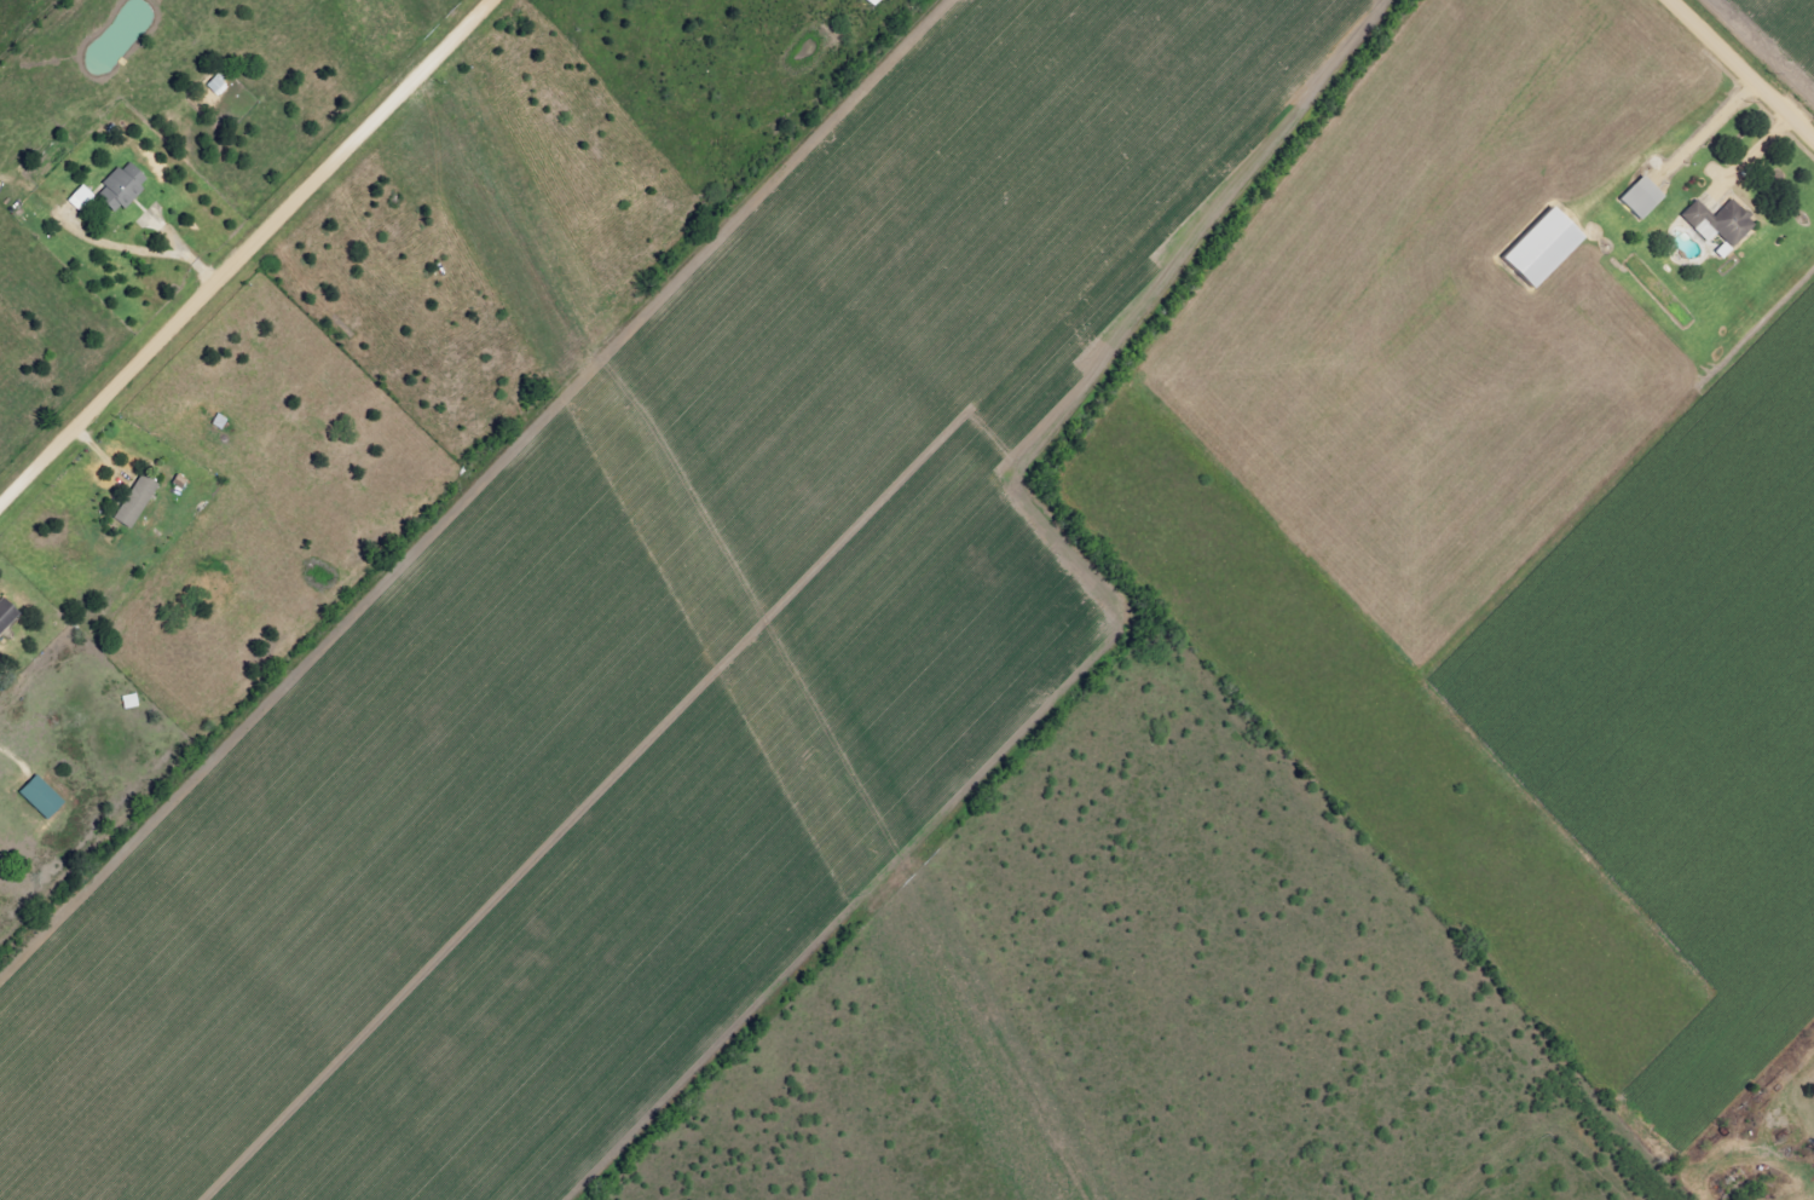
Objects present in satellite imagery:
road: (1745, 67)
building: (216, 86)
road: (1750, 157)
building: (120, 187)
building: (77, 196)
building: (1637, 202)
building: (1718, 225)
building: (1539, 247)
road: (162, 250)
road: (245, 252)
building: (134, 501)
building: (5, 613)
road: (11, 758)
building: (39, 796)

